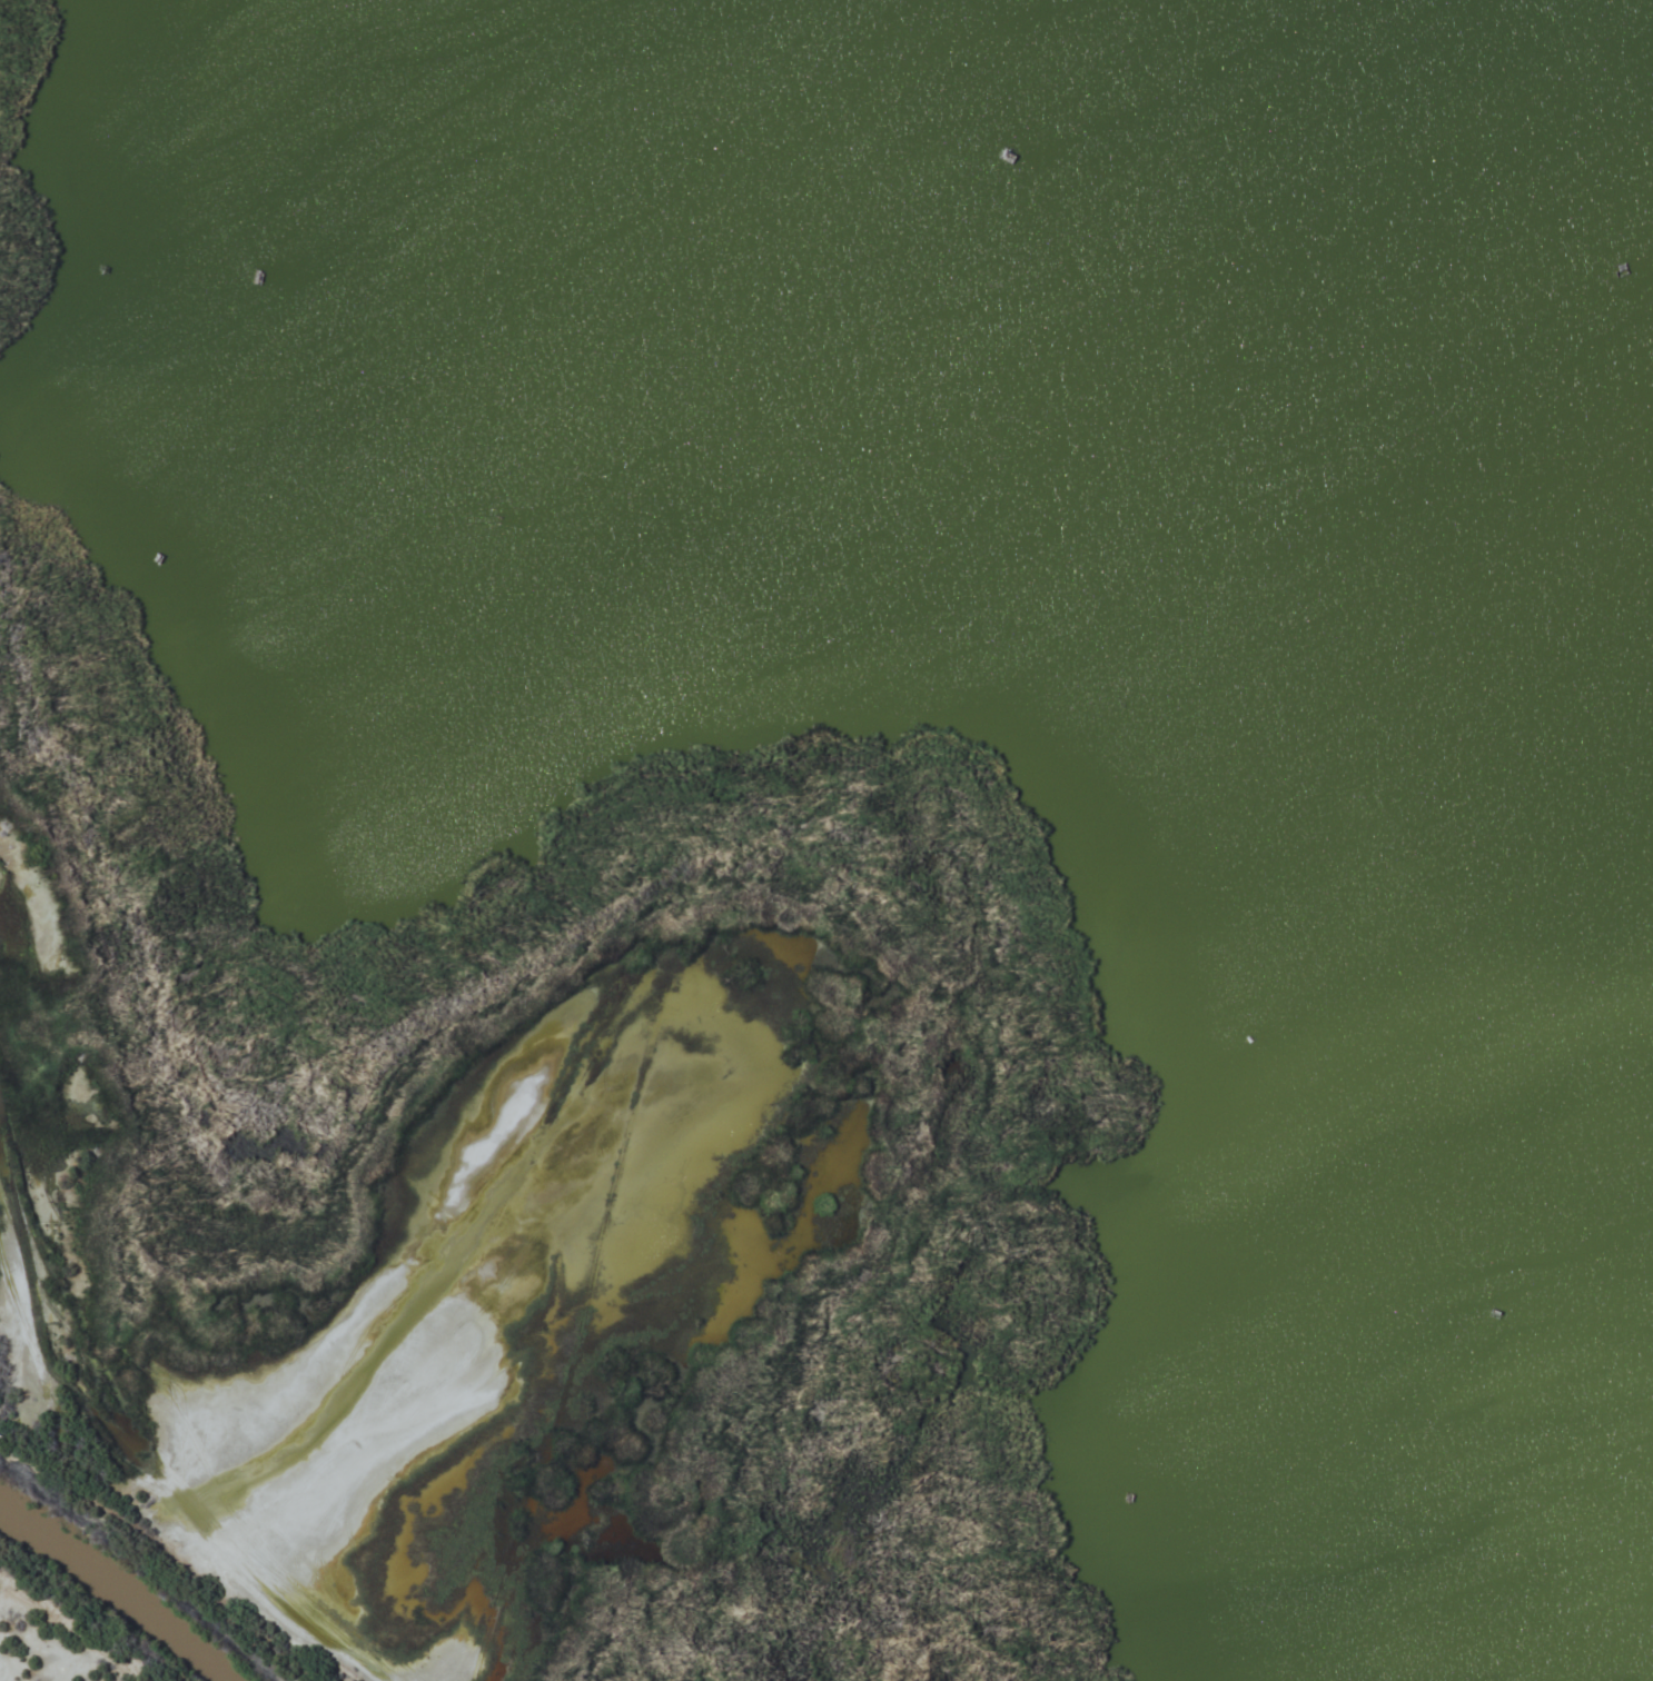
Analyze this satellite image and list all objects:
river: (130, 1574)

